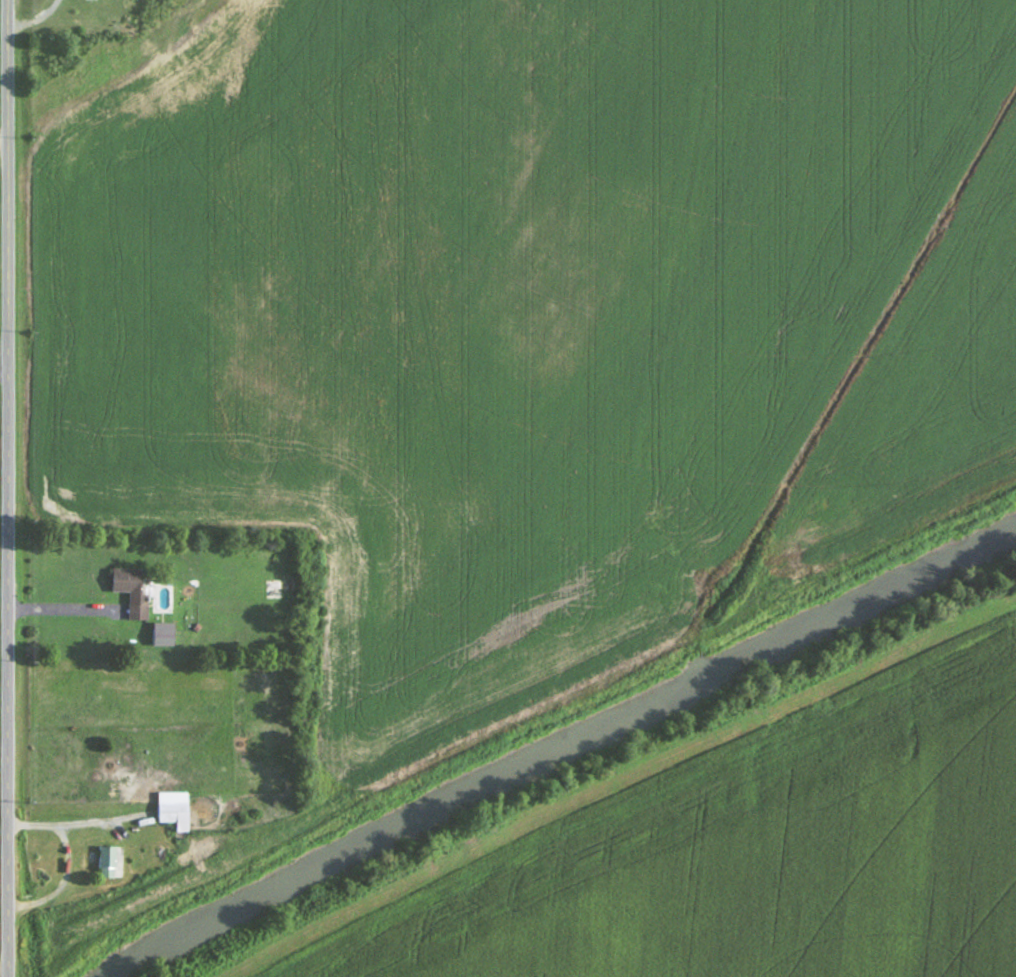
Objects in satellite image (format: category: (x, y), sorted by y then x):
road: (6, 136)
road: (3, 377)
road: (6, 488)
building: (129, 585)
road: (73, 611)
building: (174, 810)
road: (77, 820)

